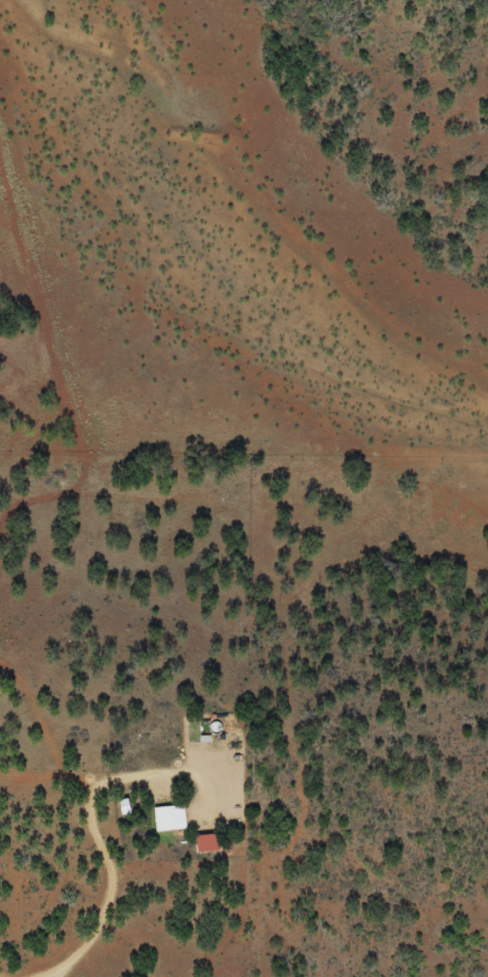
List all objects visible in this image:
building: (172, 819)

